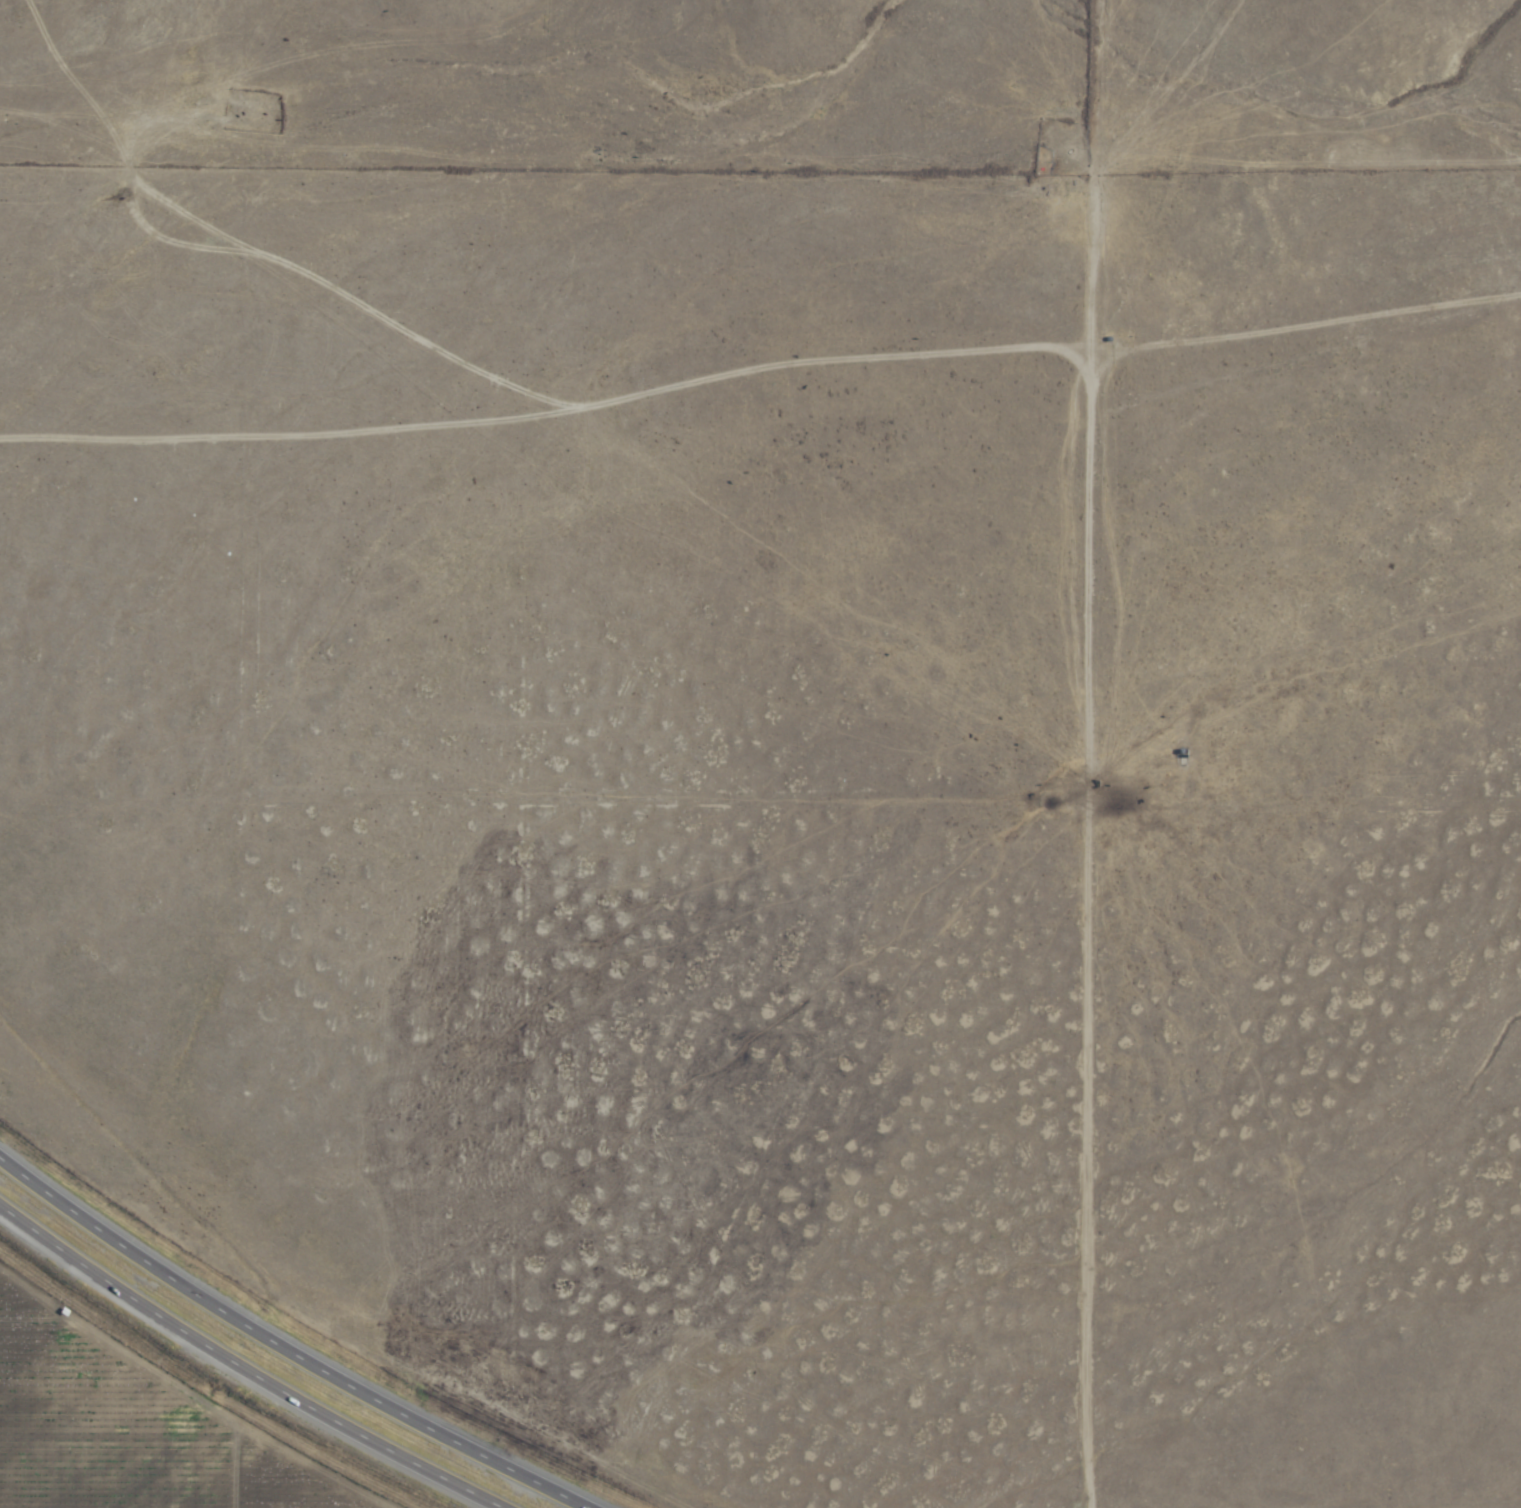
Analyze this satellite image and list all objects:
road: (490, 172)
road: (280, 1338)
road: (232, 1362)

